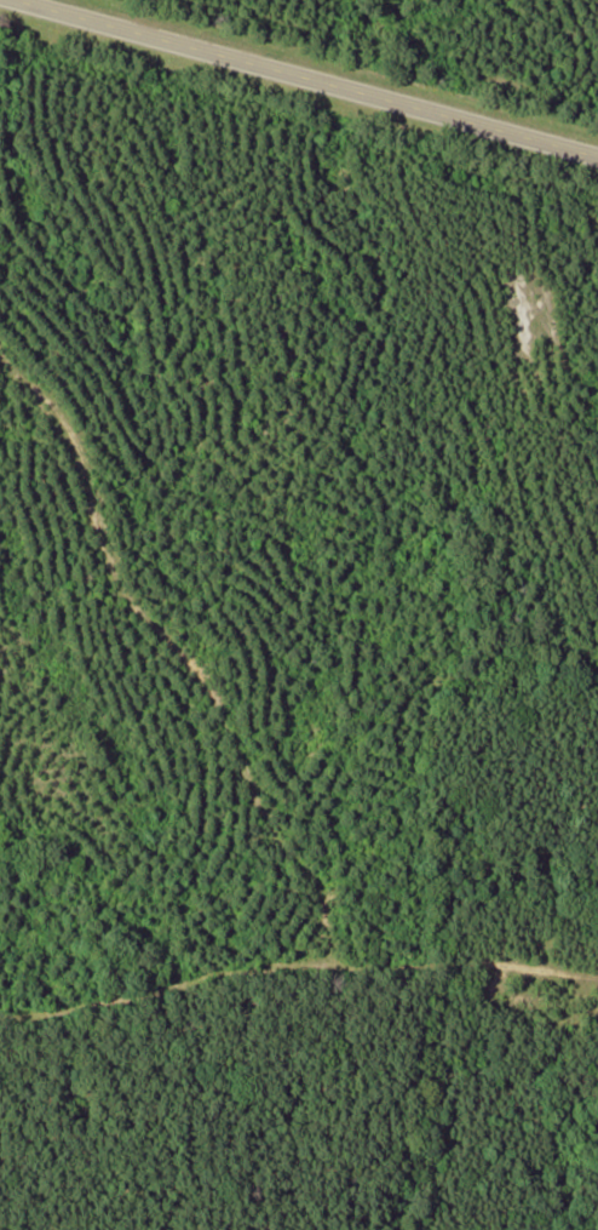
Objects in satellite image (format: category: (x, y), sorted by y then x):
road: (312, 78)

